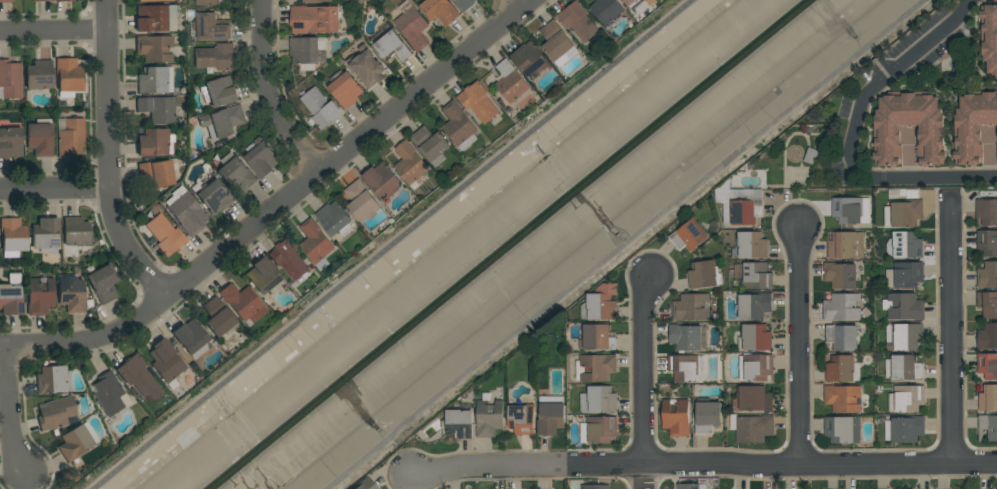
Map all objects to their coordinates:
building: (40, 0)
building: (64, 0)
building: (154, 0)
building: (7, 1)
building: (317, 1)
building: (207, 2)
building: (630, 2)
road: (521, 3)
building: (465, 4)
building: (441, 10)
building: (607, 10)
building: (153, 19)
building: (314, 19)
building: (579, 21)
building: (412, 26)
building: (211, 27)
road: (54, 30)
building: (989, 37)
building: (557, 43)
building: (392, 47)
building: (154, 48)
building: (306, 50)
building: (216, 57)
building: (529, 58)
building: (367, 67)
building: (39, 75)
building: (69, 75)
building: (10, 79)
building: (152, 80)
building: (511, 82)
building: (346, 90)
building: (222, 92)
road: (271, 92)
building: (478, 102)
building: (157, 109)
building: (320, 109)
building: (223, 122)
building: (973, 125)
building: (459, 126)
building: (887, 128)
road: (855, 131)
building: (70, 137)
building: (40, 138)
building: (10, 143)
building: (155, 143)
building: (431, 145)
building: (810, 155)
road: (109, 157)
building: (263, 158)
building: (410, 163)
building: (156, 173)
building: (237, 174)
building: (382, 180)
road: (55, 189)
building: (215, 197)
building: (362, 202)
road: (281, 204)
building: (740, 204)
building: (186, 211)
building: (986, 211)
building: (905, 214)
building: (334, 218)
building: (46, 235)
building: (75, 235)
building: (165, 235)
building: (13, 236)
building: (688, 236)
building: (987, 242)
building: (316, 244)
road: (392, 244)
building: (751, 245)
building: (845, 245)
building: (904, 245)
building: (289, 260)
building: (908, 274)
building: (702, 275)
building: (840, 275)
building: (987, 275)
building: (262, 276)
building: (756, 276)
building: (103, 282)
building: (10, 295)
building: (40, 295)
building: (72, 295)
building: (243, 302)
building: (602, 302)
building: (987, 304)
building: (753, 306)
building: (903, 306)
building: (841, 307)
building: (691, 308)
building: (218, 317)
road: (950, 330)
building: (191, 336)
building: (595, 336)
building: (904, 336)
building: (987, 336)
building: (685, 337)
building: (755, 337)
building: (842, 337)
road: (800, 349)
building: (166, 360)
building: (987, 365)
building: (597, 367)
building: (682, 368)
building: (756, 368)
building: (839, 368)
building: (905, 368)
building: (139, 377)
building: (52, 380)
road: (644, 380)
building: (108, 394)
building: (842, 398)
building: (988, 398)
building: (598, 399)
building: (753, 399)
building: (906, 399)
road: (18, 411)
building: (57, 414)
building: (551, 415)
building: (489, 417)
building: (675, 417)
building: (707, 417)
building: (521, 419)
building: (459, 424)
building: (987, 428)
building: (600, 429)
building: (906, 429)
building: (842, 430)
building: (77, 443)
road: (703, 465)
building: (365, 484)
building: (687, 486)
building: (594, 487)
building: (996, 488)

